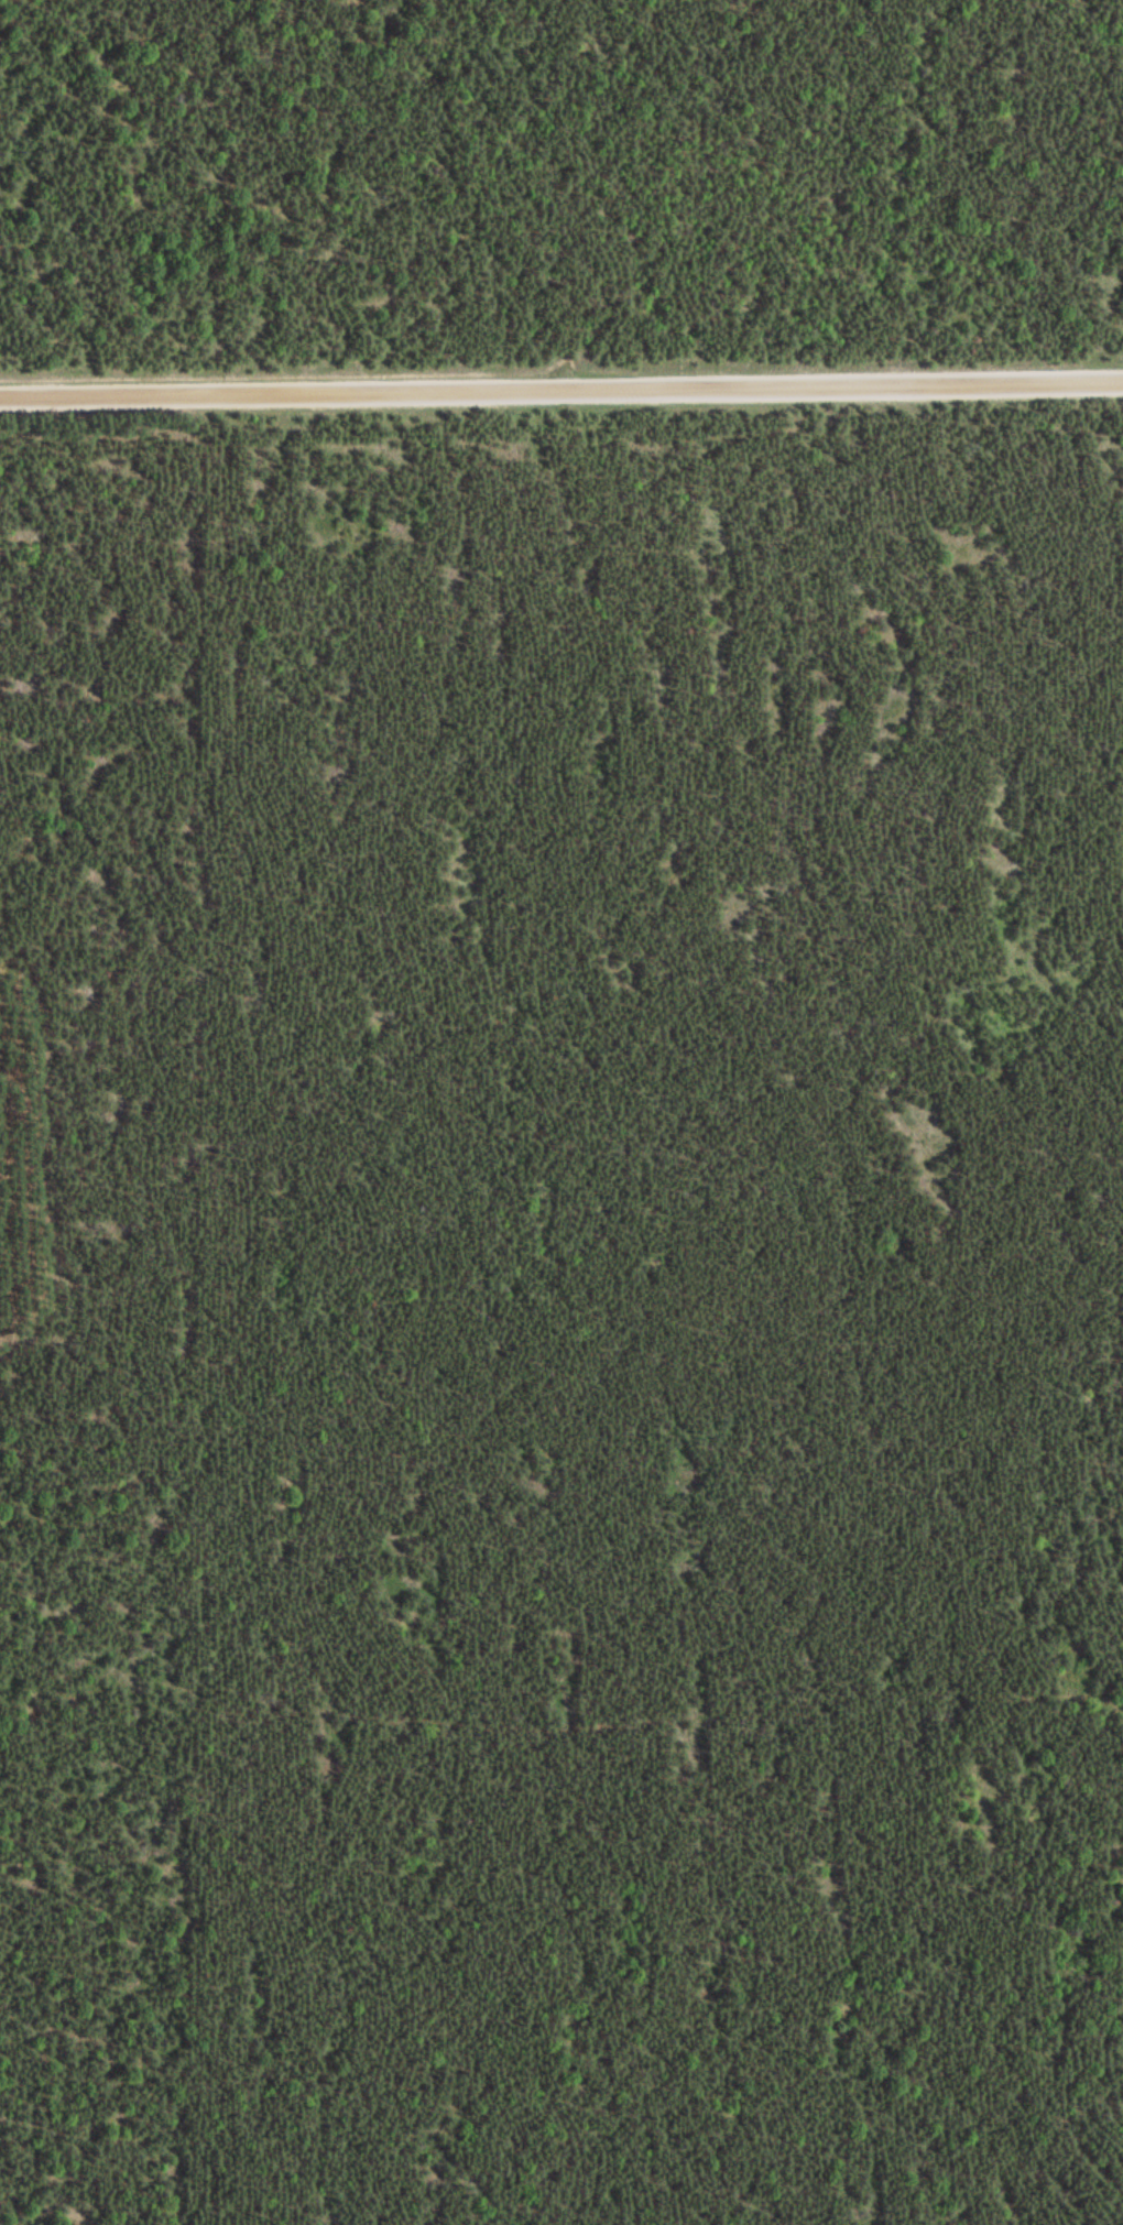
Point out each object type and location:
road: (561, 401)

